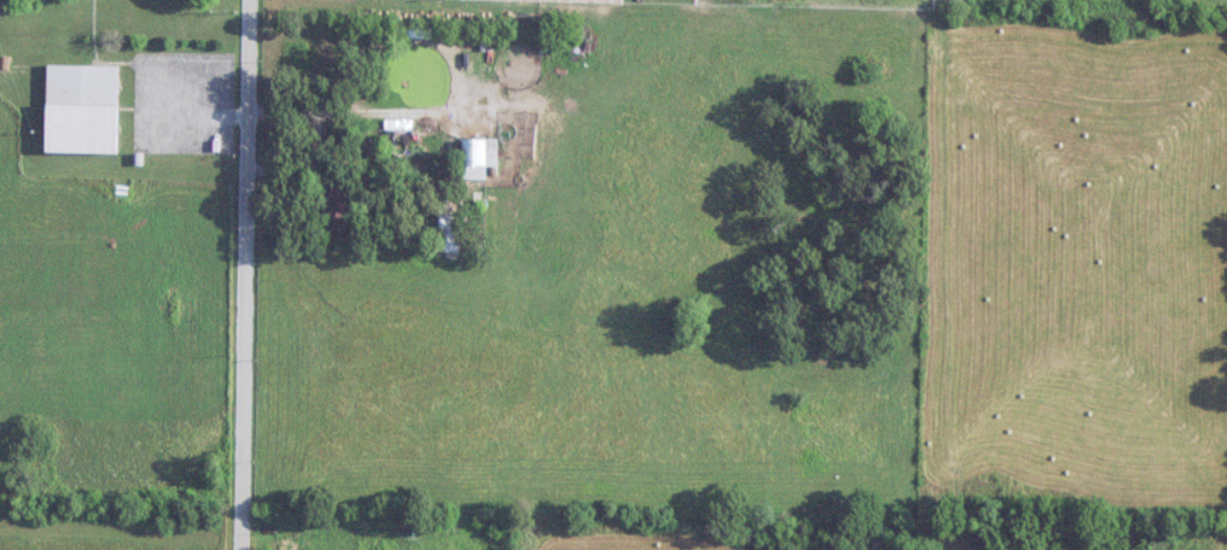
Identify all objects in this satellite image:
building: (81, 110)
road: (349, 111)
building: (478, 158)
building: (444, 228)
road: (244, 274)

